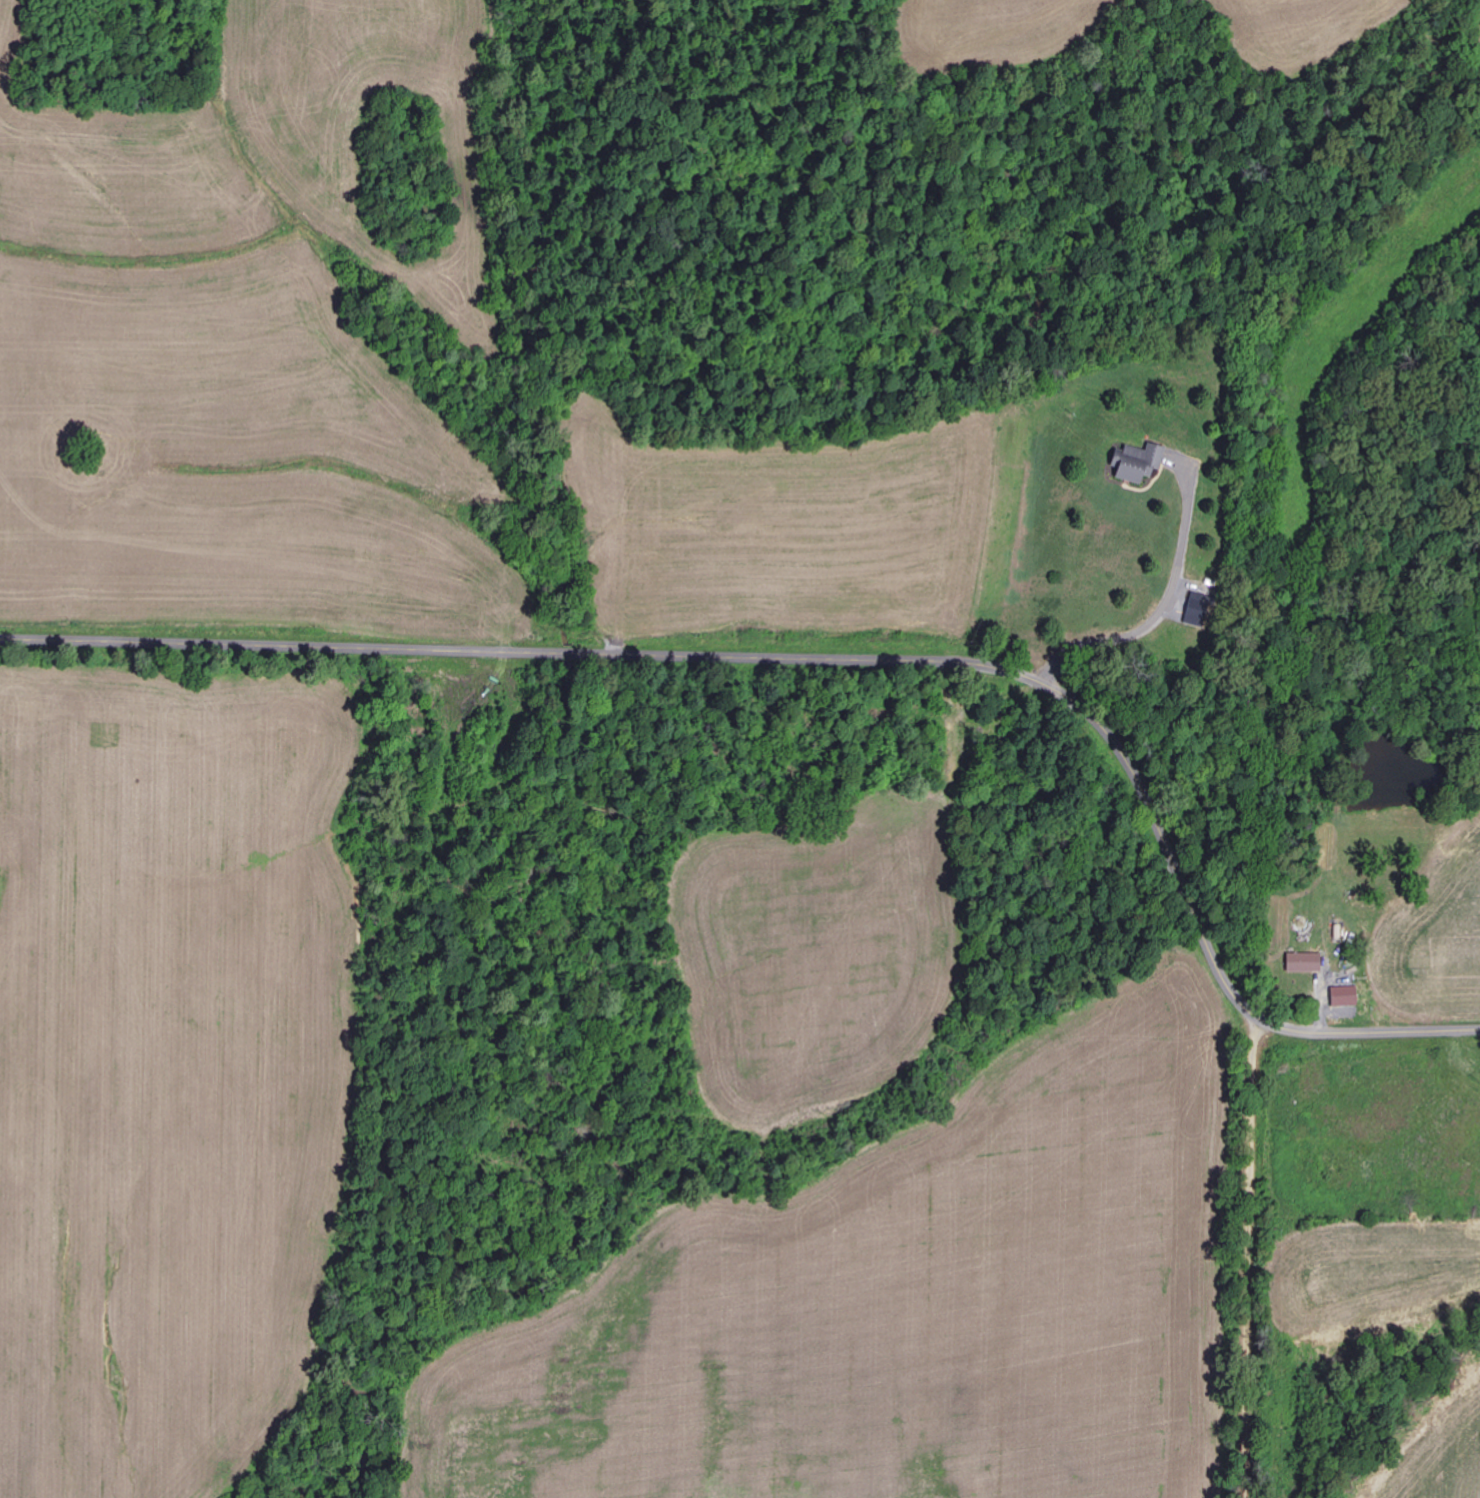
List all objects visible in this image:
building: (1143, 463)
building: (1200, 610)
road: (835, 659)
building: (1307, 963)
road: (1250, 1255)

